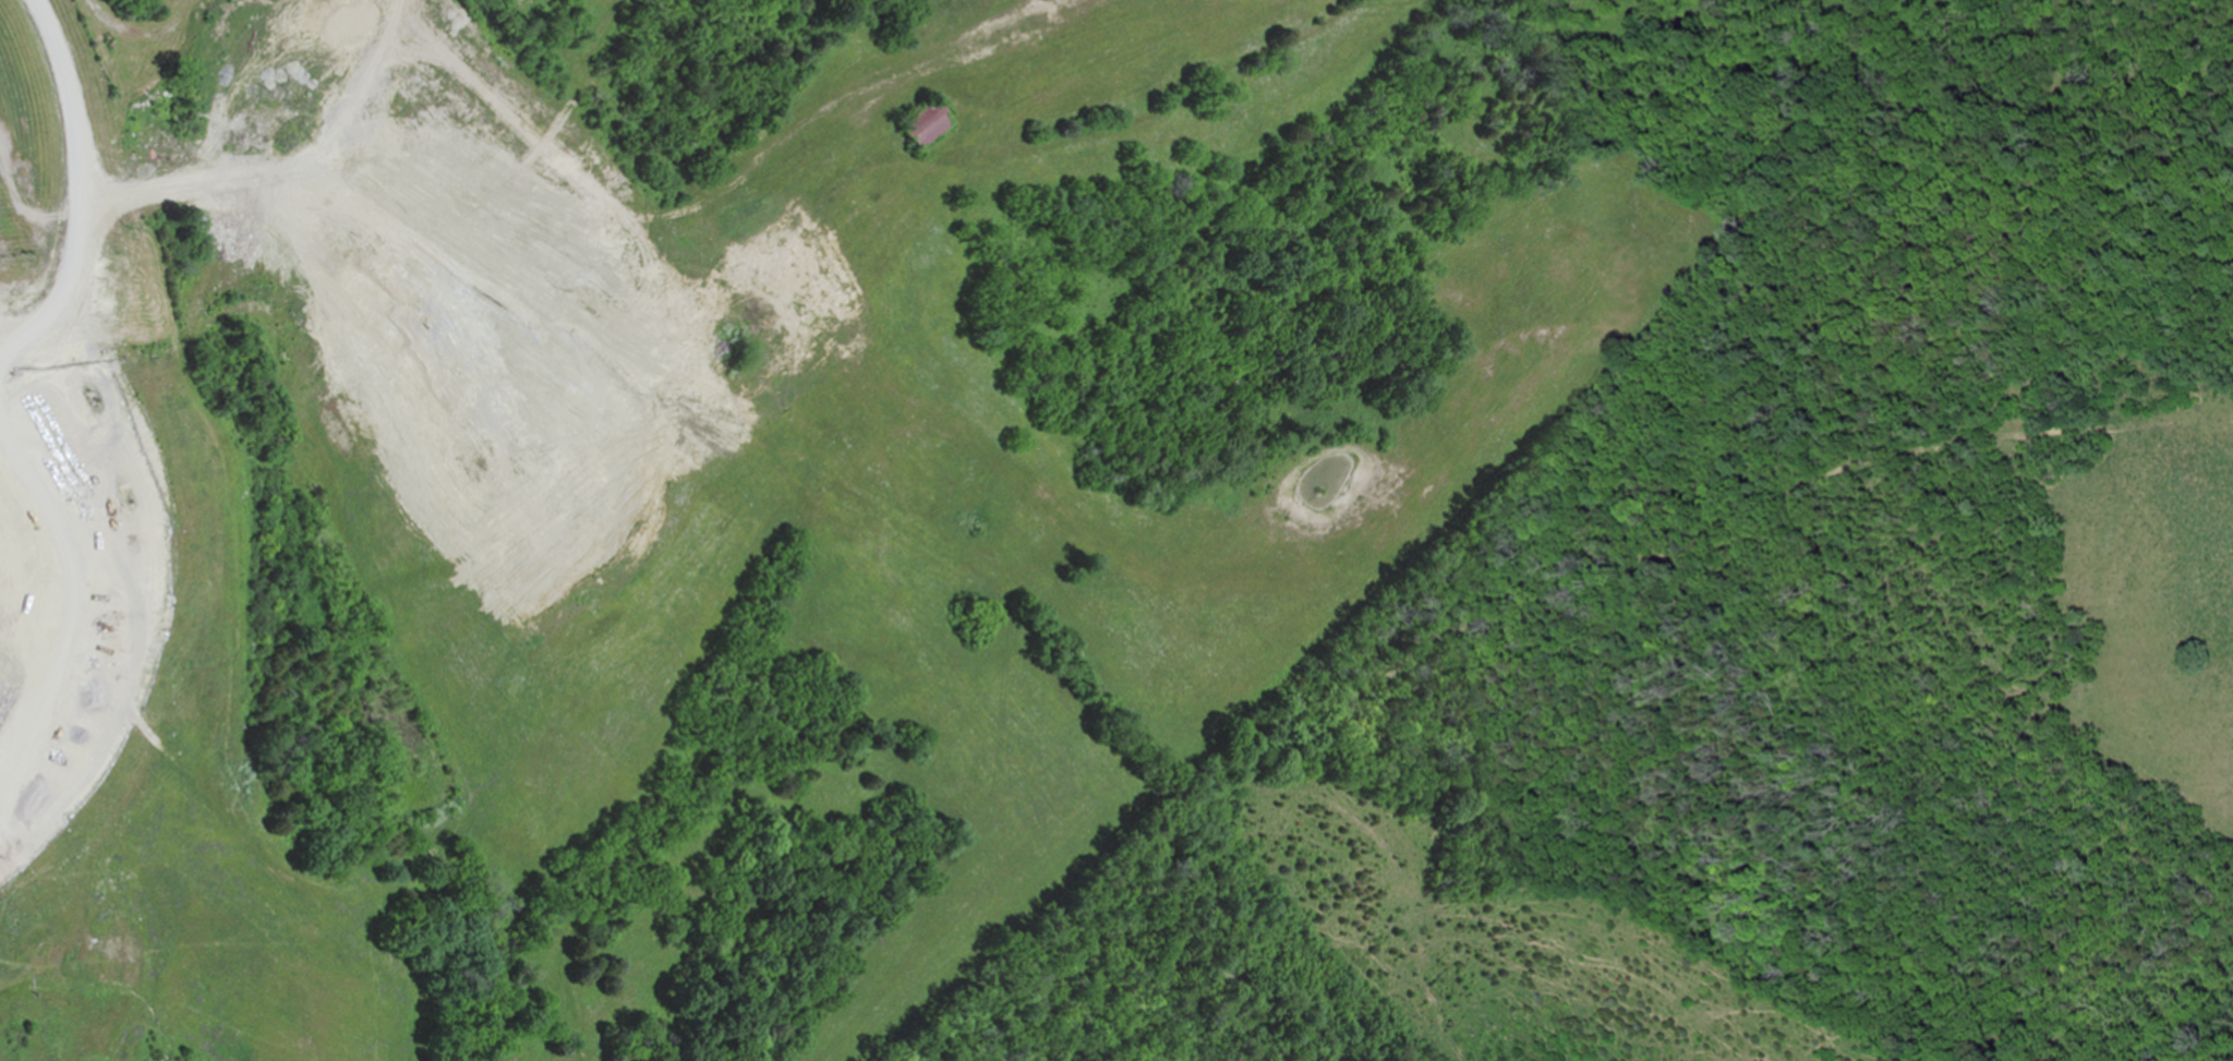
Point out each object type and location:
building: (920, 125)
building: (639, 399)

